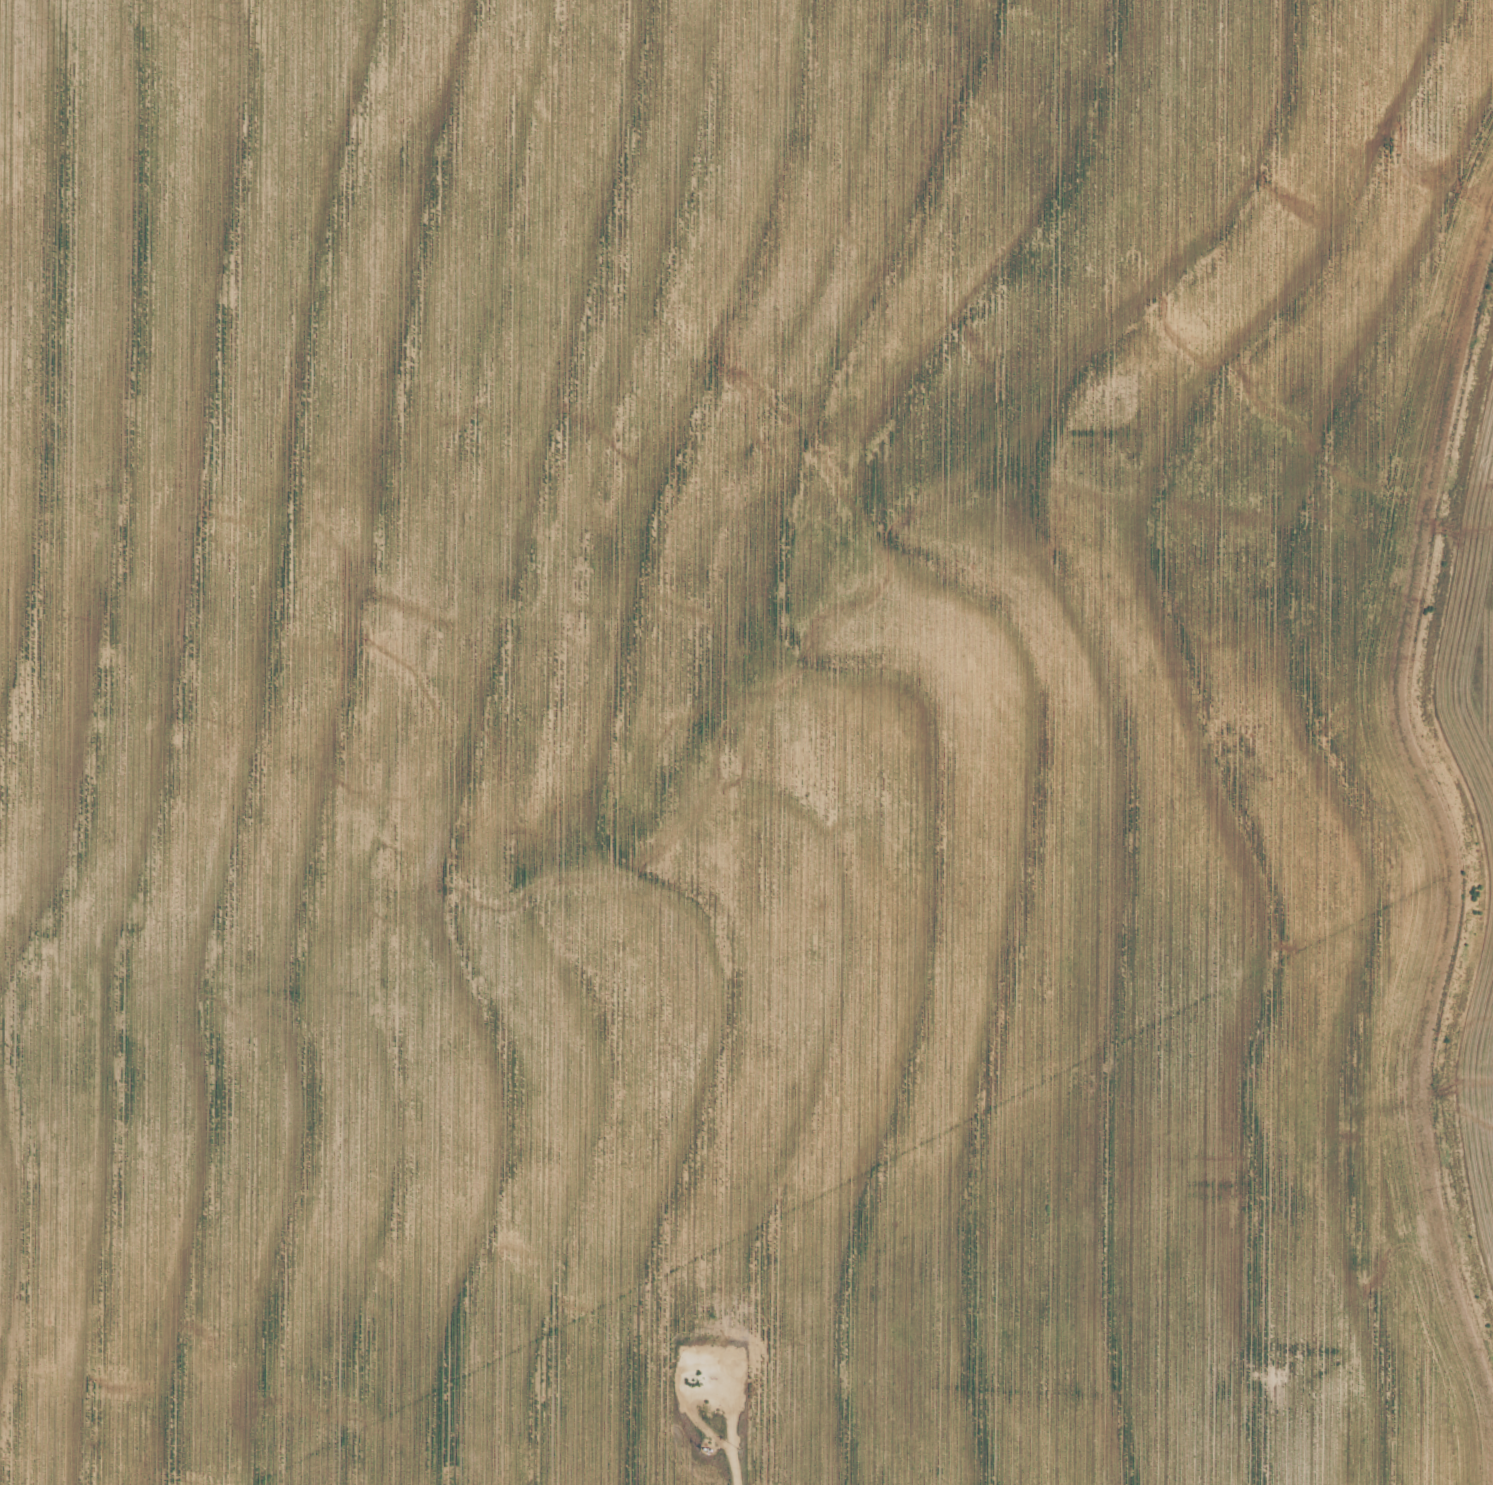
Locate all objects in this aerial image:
petroleum well: (697, 1378)
petroleum well: (1285, 1389)

